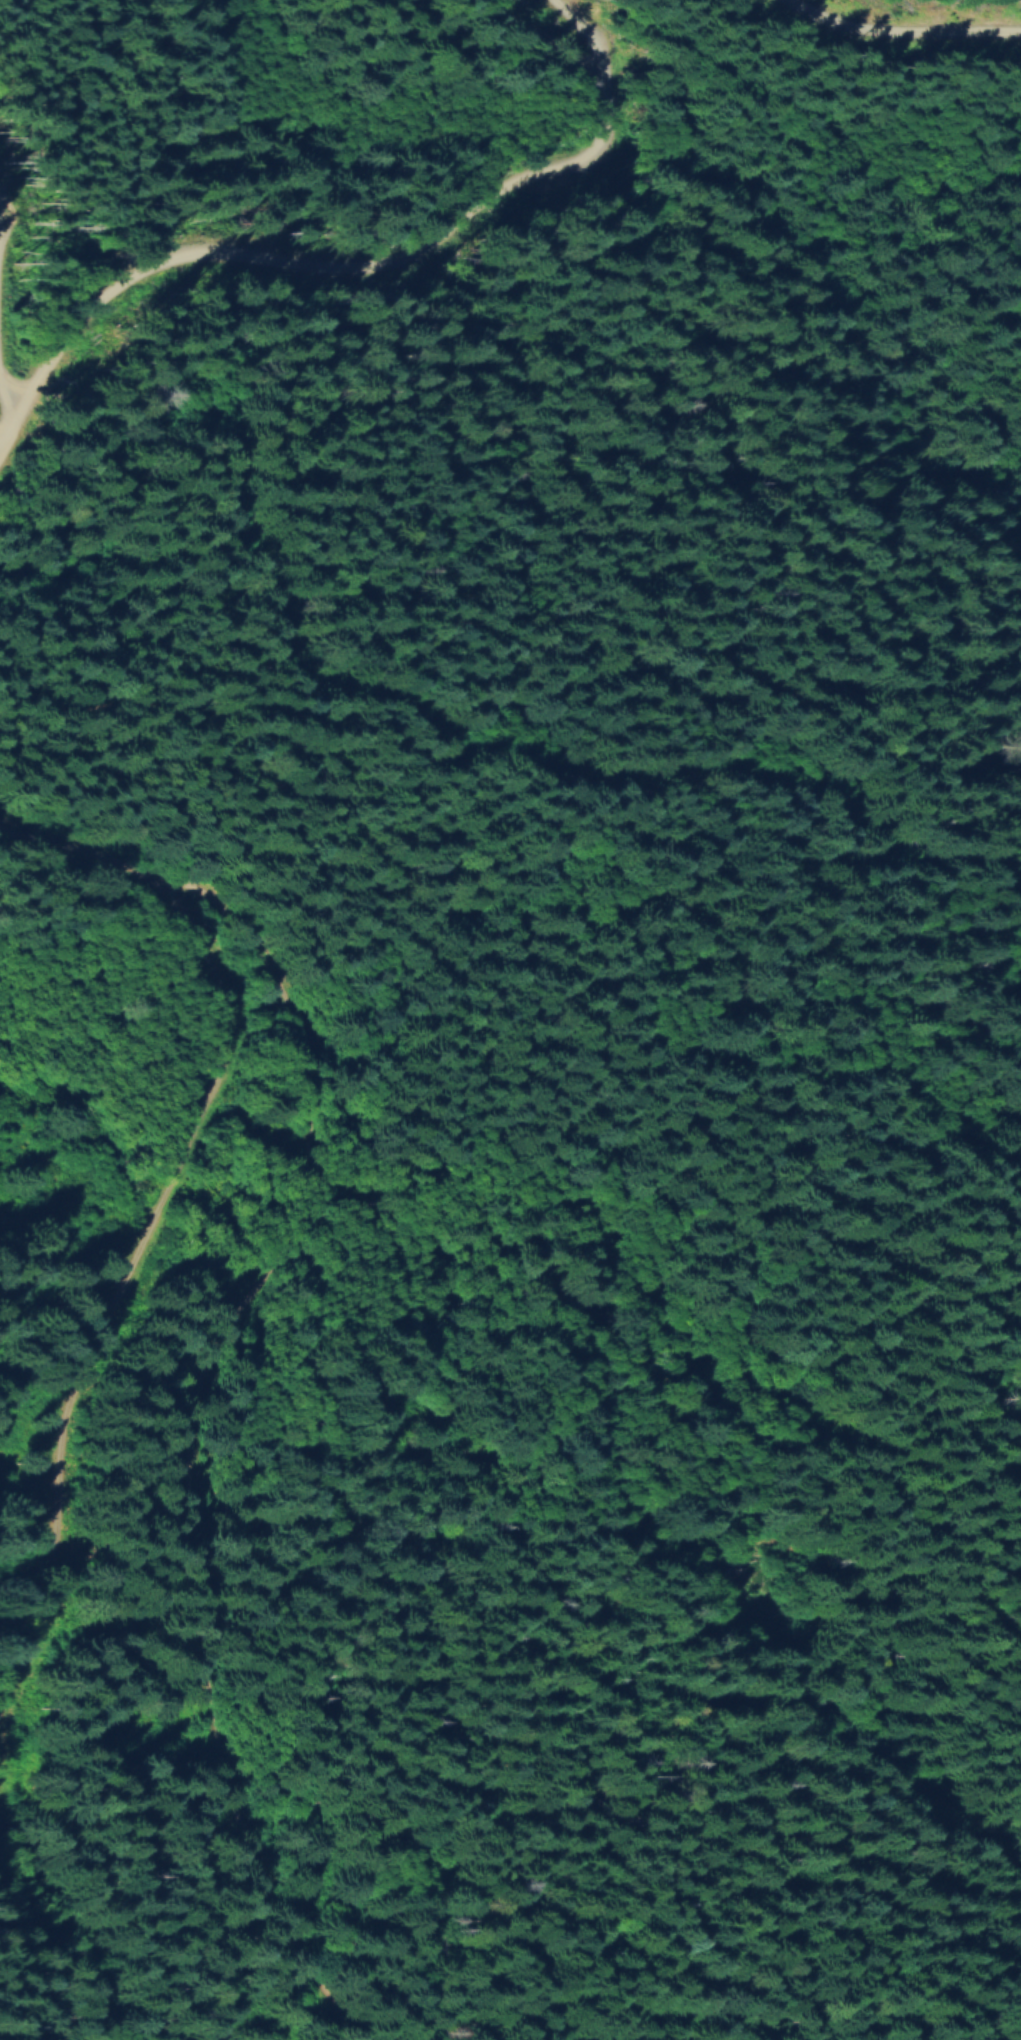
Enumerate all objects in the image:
road: (831, 101)
road: (333, 244)
road: (4, 431)
road: (4, 445)
road: (142, 1256)

